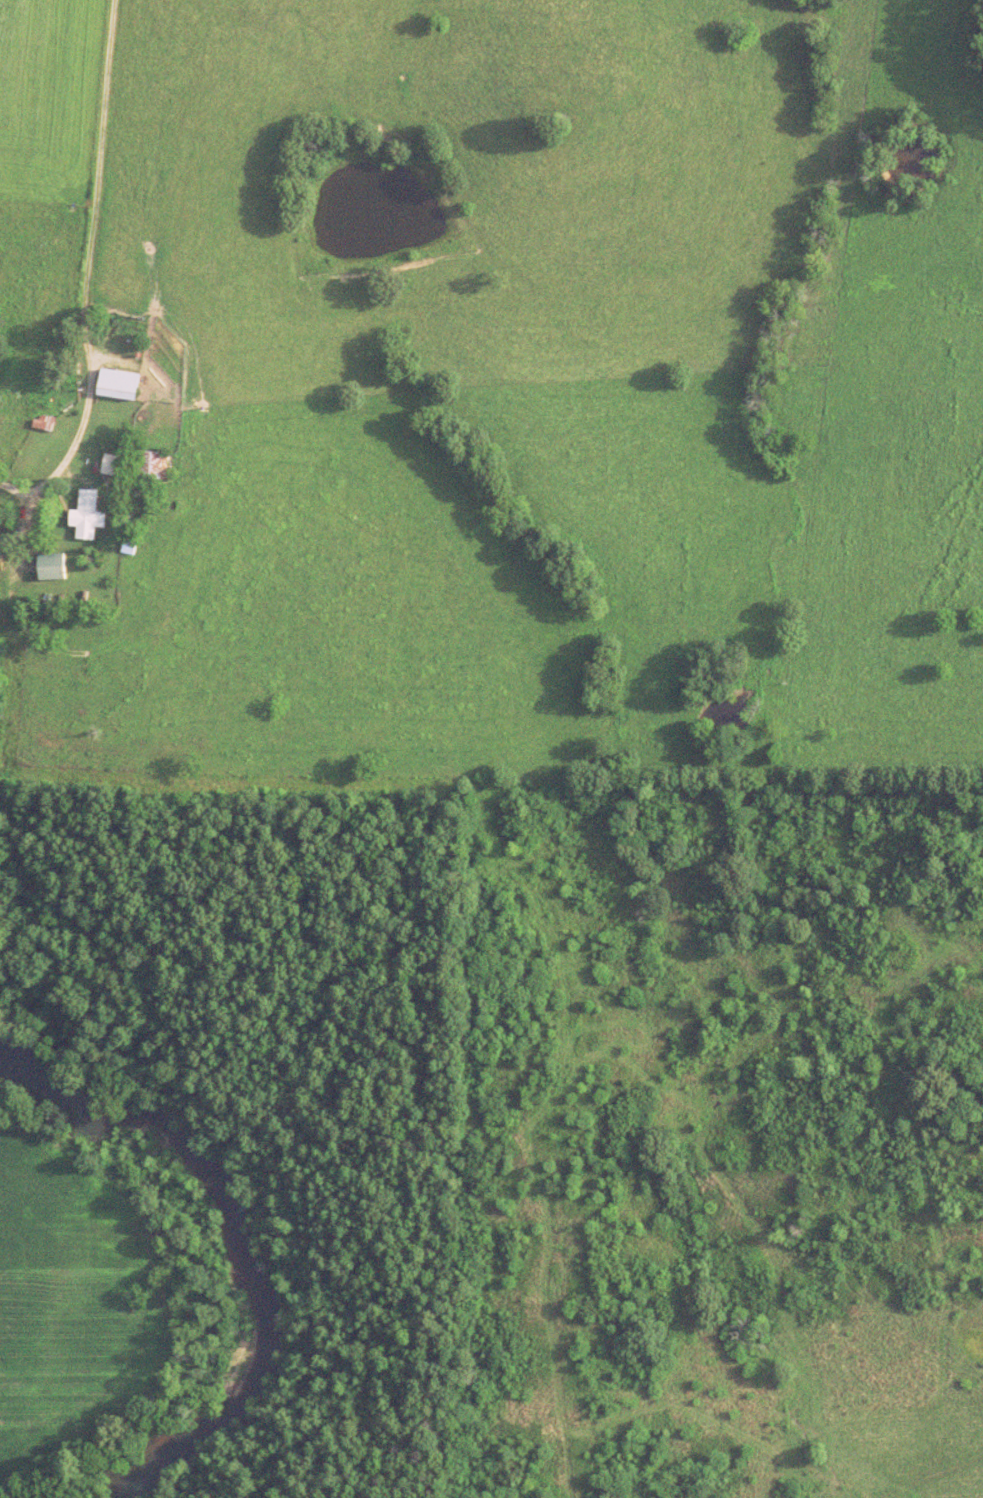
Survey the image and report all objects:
building: (123, 388)
building: (47, 426)
building: (115, 468)
building: (158, 469)
building: (90, 518)
building: (55, 569)

